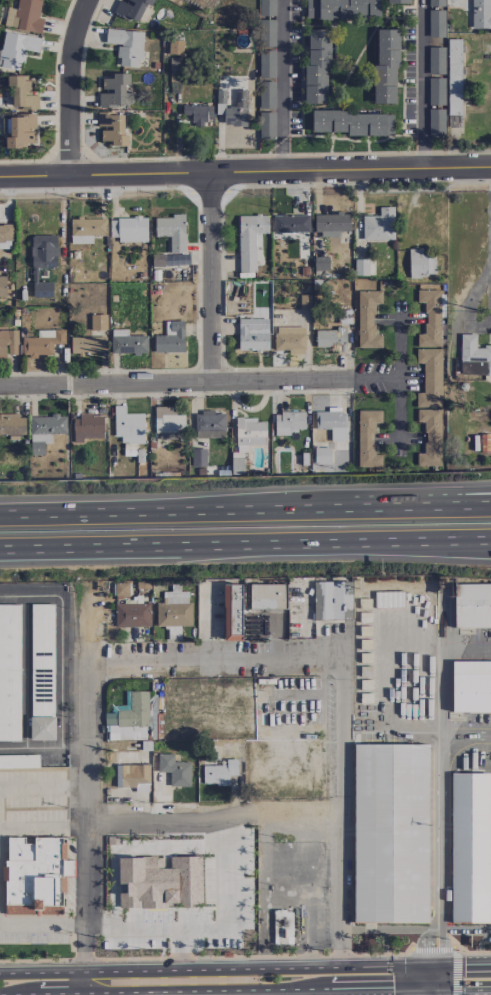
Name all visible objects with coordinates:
building: (397, 1)
building: (436, 2)
building: (266, 7)
building: (130, 8)
building: (342, 9)
building: (481, 14)
building: (24, 16)
building: (436, 23)
building: (266, 32)
building: (125, 45)
building: (175, 46)
building: (16, 48)
building: (385, 65)
building: (316, 67)
road: (423, 68)
road: (282, 69)
building: (453, 83)
road: (69, 84)
building: (435, 90)
building: (22, 91)
building: (114, 91)
building: (266, 94)
building: (232, 108)
building: (198, 113)
building: (351, 122)
building: (436, 122)
building: (266, 125)
building: (112, 128)
building: (20, 131)
road: (424, 152)
road: (283, 155)
road: (245, 172)
building: (290, 223)
building: (330, 223)
building: (378, 225)
building: (128, 228)
building: (86, 229)
building: (171, 231)
building: (5, 236)
building: (249, 239)
building: (42, 263)
building: (320, 263)
building: (420, 263)
building: (360, 265)
road: (211, 277)
building: (2, 286)
building: (367, 318)
building: (429, 318)
building: (98, 321)
building: (252, 334)
building: (170, 338)
building: (289, 339)
building: (331, 339)
building: (126, 341)
building: (41, 342)
building: (8, 343)
building: (88, 345)
building: (474, 356)
building: (429, 377)
road: (373, 380)
road: (172, 382)
road: (401, 383)
building: (168, 422)
building: (288, 422)
building: (331, 422)
building: (12, 424)
building: (128, 425)
building: (209, 425)
building: (86, 427)
building: (44, 430)
building: (249, 433)
building: (430, 437)
building: (367, 438)
building: (321, 455)
building: (198, 456)
building: (236, 462)
road: (368, 497)
road: (368, 503)
road: (123, 508)
road: (414, 548)
road: (414, 552)
road: (169, 553)
building: (266, 596)
building: (331, 601)
building: (472, 605)
building: (173, 611)
building: (231, 612)
building: (131, 614)
road: (60, 642)
road: (466, 644)
road: (216, 662)
building: (41, 671)
building: (9, 672)
building: (471, 686)
building: (128, 718)
road: (467, 734)
road: (74, 746)
road: (30, 747)
building: (17, 760)
building: (174, 769)
building: (219, 771)
building: (130, 775)
road: (44, 787)
road: (441, 800)
road: (343, 813)
road: (216, 817)
road: (43, 828)
road: (88, 829)
building: (390, 833)
building: (469, 847)
building: (34, 875)
building: (159, 881)
road: (225, 896)
road: (43, 924)
building: (282, 926)
road: (151, 928)
road: (245, 967)
road: (439, 979)
road: (415, 980)
road: (264, 991)

